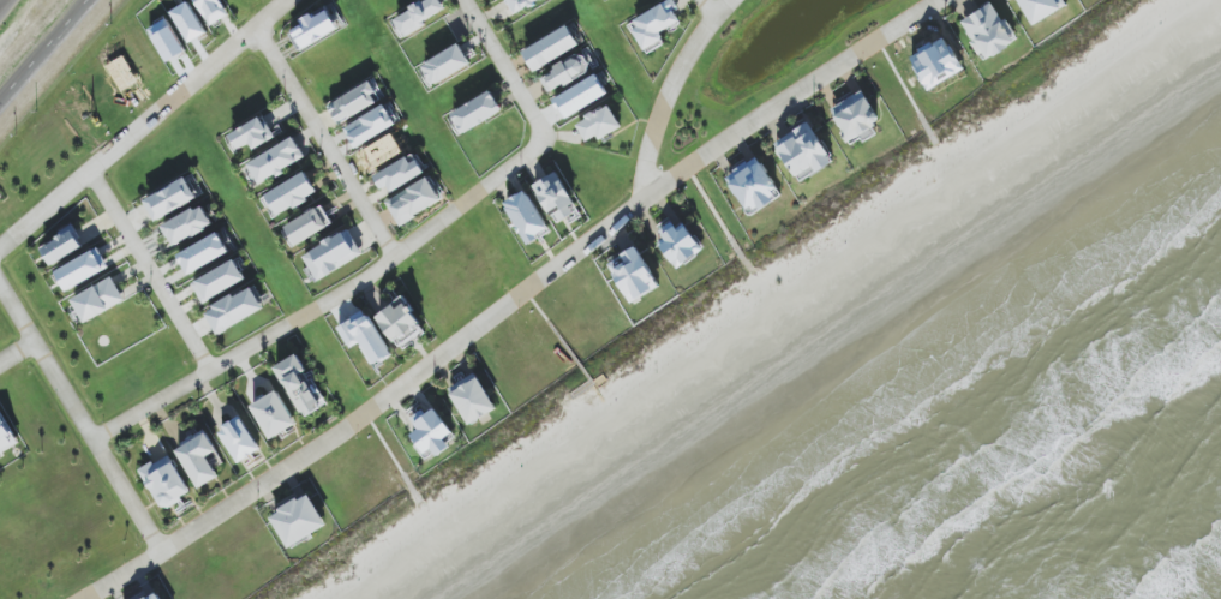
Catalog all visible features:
building: (521, 5)
road: (708, 8)
building: (1040, 8)
building: (213, 10)
building: (420, 14)
building: (656, 25)
building: (313, 28)
building: (988, 31)
building: (167, 41)
building: (551, 48)
road: (44, 52)
building: (447, 65)
building: (568, 71)
road: (669, 91)
building: (581, 96)
building: (355, 102)
building: (477, 112)
building: (855, 116)
building: (599, 125)
road: (145, 126)
building: (371, 126)
building: (252, 134)
road: (325, 143)
building: (803, 152)
building: (276, 161)
building: (400, 174)
building: (753, 186)
building: (292, 194)
building: (556, 198)
building: (170, 199)
building: (415, 200)
building: (526, 216)
building: (187, 226)
building: (309, 226)
building: (678, 245)
building: (62, 246)
building: (203, 253)
building: (333, 254)
road: (393, 259)
building: (82, 270)
road: (152, 271)
building: (634, 275)
building: (219, 281)
building: (98, 300)
road: (515, 303)
building: (235, 310)
building: (401, 324)
building: (365, 337)
road: (17, 353)
building: (301, 387)
building: (472, 399)
building: (274, 414)
road: (79, 418)
building: (431, 433)
building: (5, 435)
building: (239, 439)
building: (198, 459)
building: (166, 481)
building: (299, 521)
building: (160, 598)

